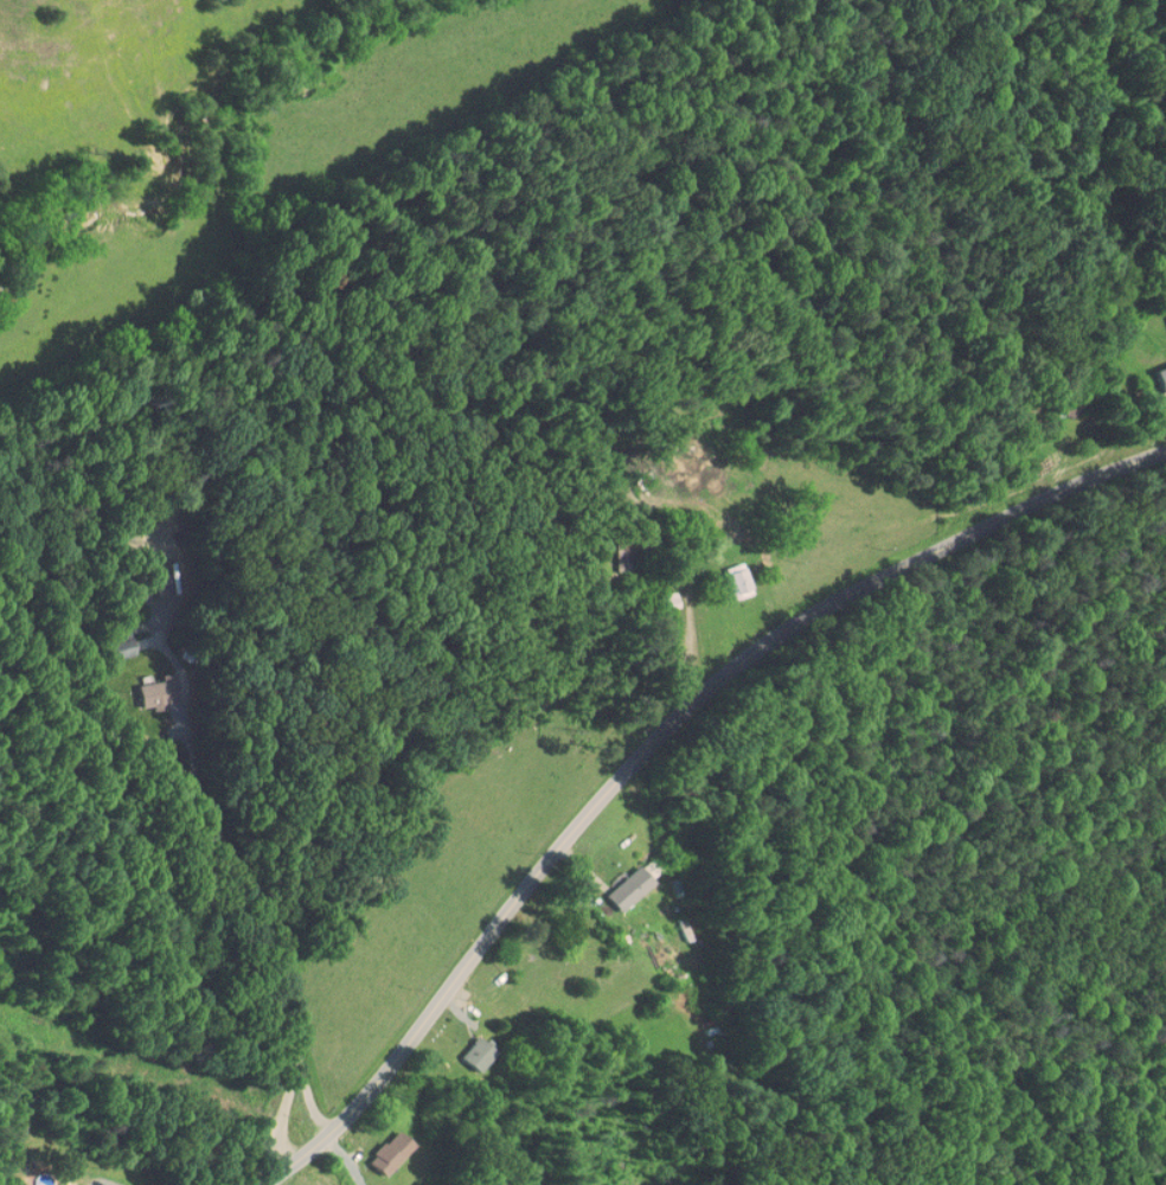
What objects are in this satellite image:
building: (1164, 310)
building: (1157, 371)
building: (725, 575)
road: (677, 642)
road: (654, 742)
road: (182, 798)
building: (616, 883)
building: (466, 1048)
building: (378, 1147)
road: (346, 1158)
building: (70, 1183)

